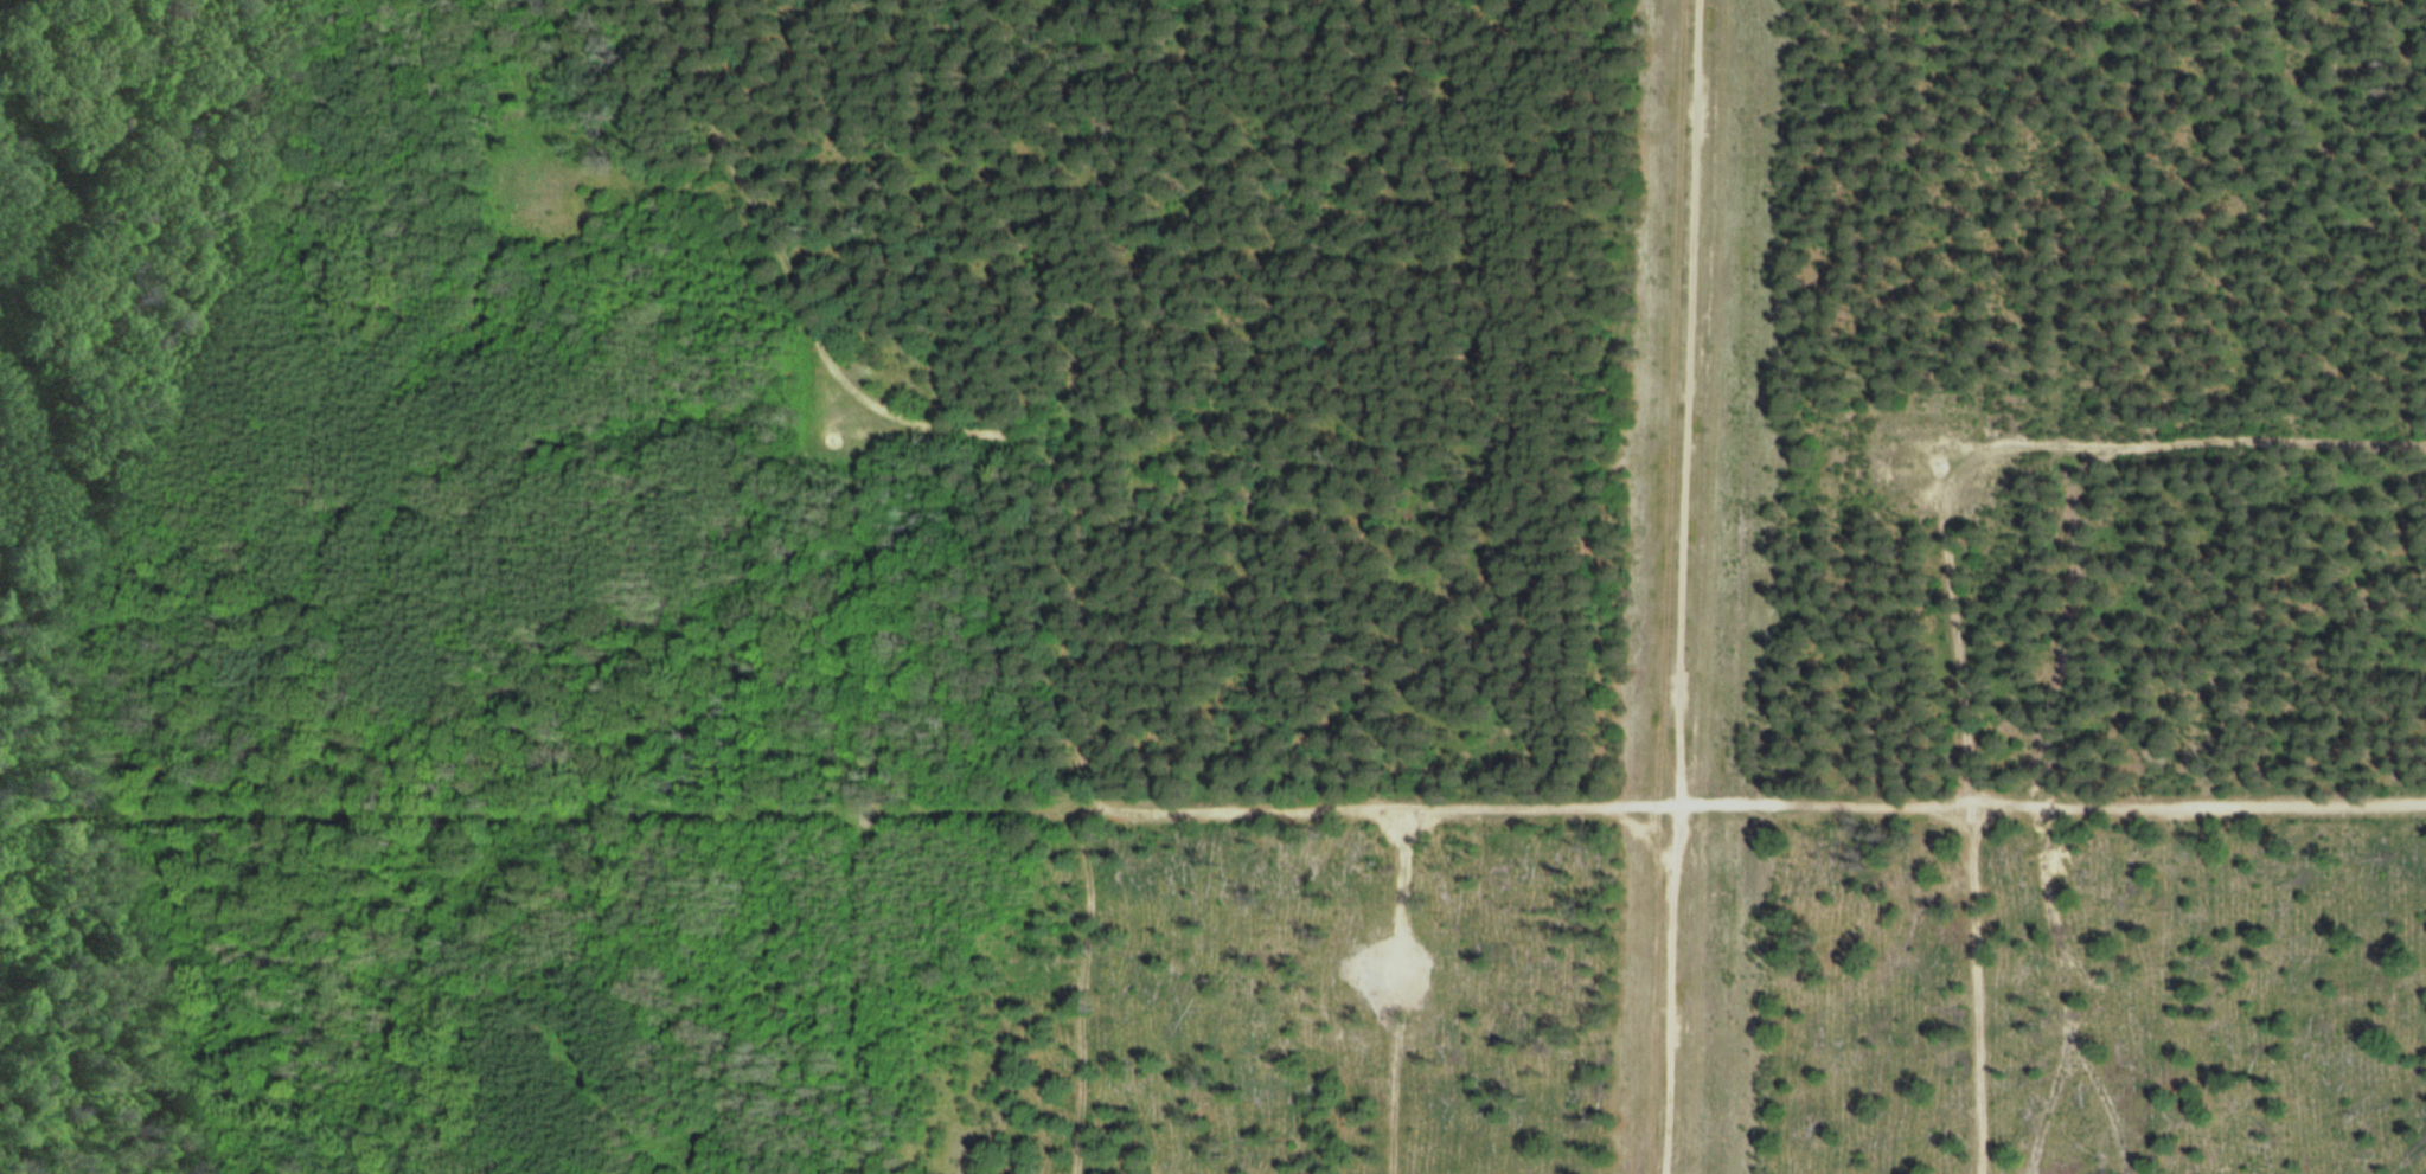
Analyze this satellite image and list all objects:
road: (1086, 495)
road: (1946, 583)
road: (1754, 808)
road: (1669, 992)
road: (1395, 1080)

